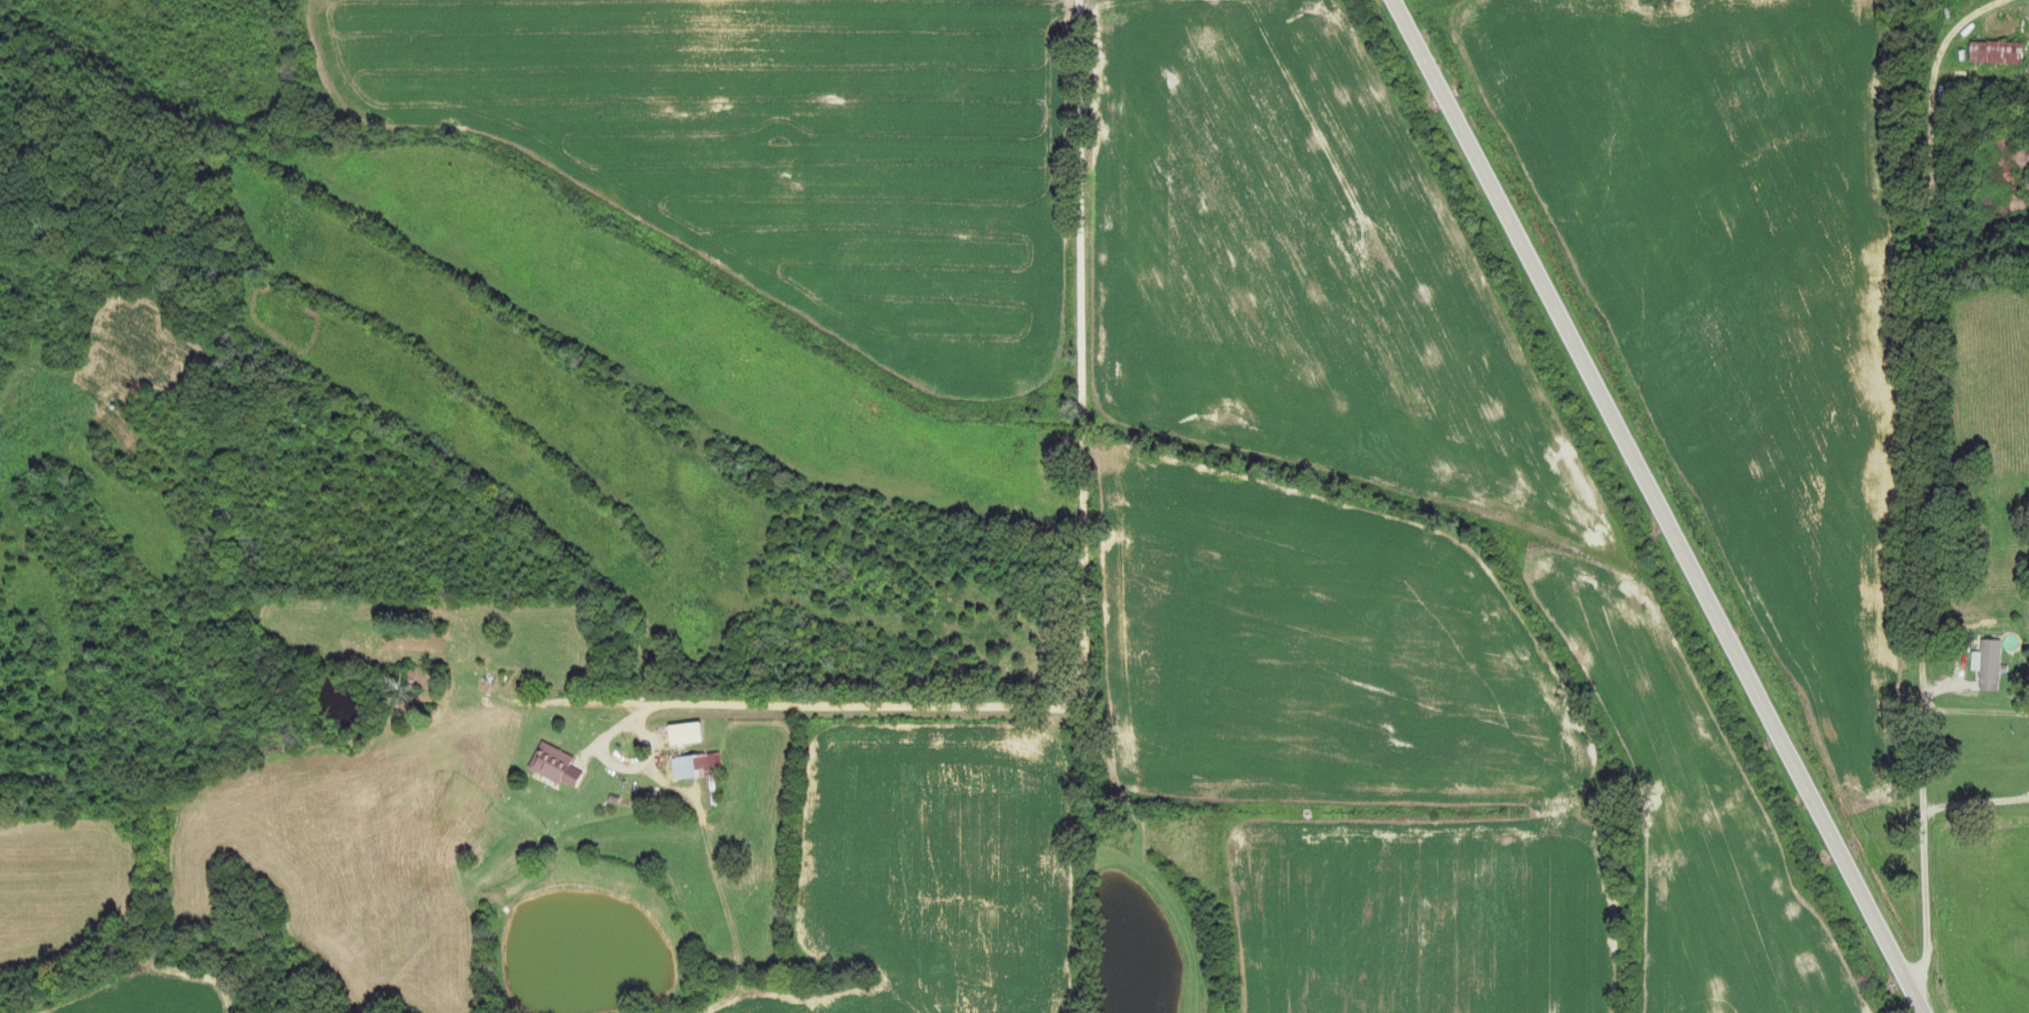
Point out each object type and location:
building: (2016, 53)
road: (1919, 480)
road: (1656, 506)
road: (1075, 626)
building: (1990, 664)
building: (688, 734)
building: (557, 765)
building: (699, 765)

